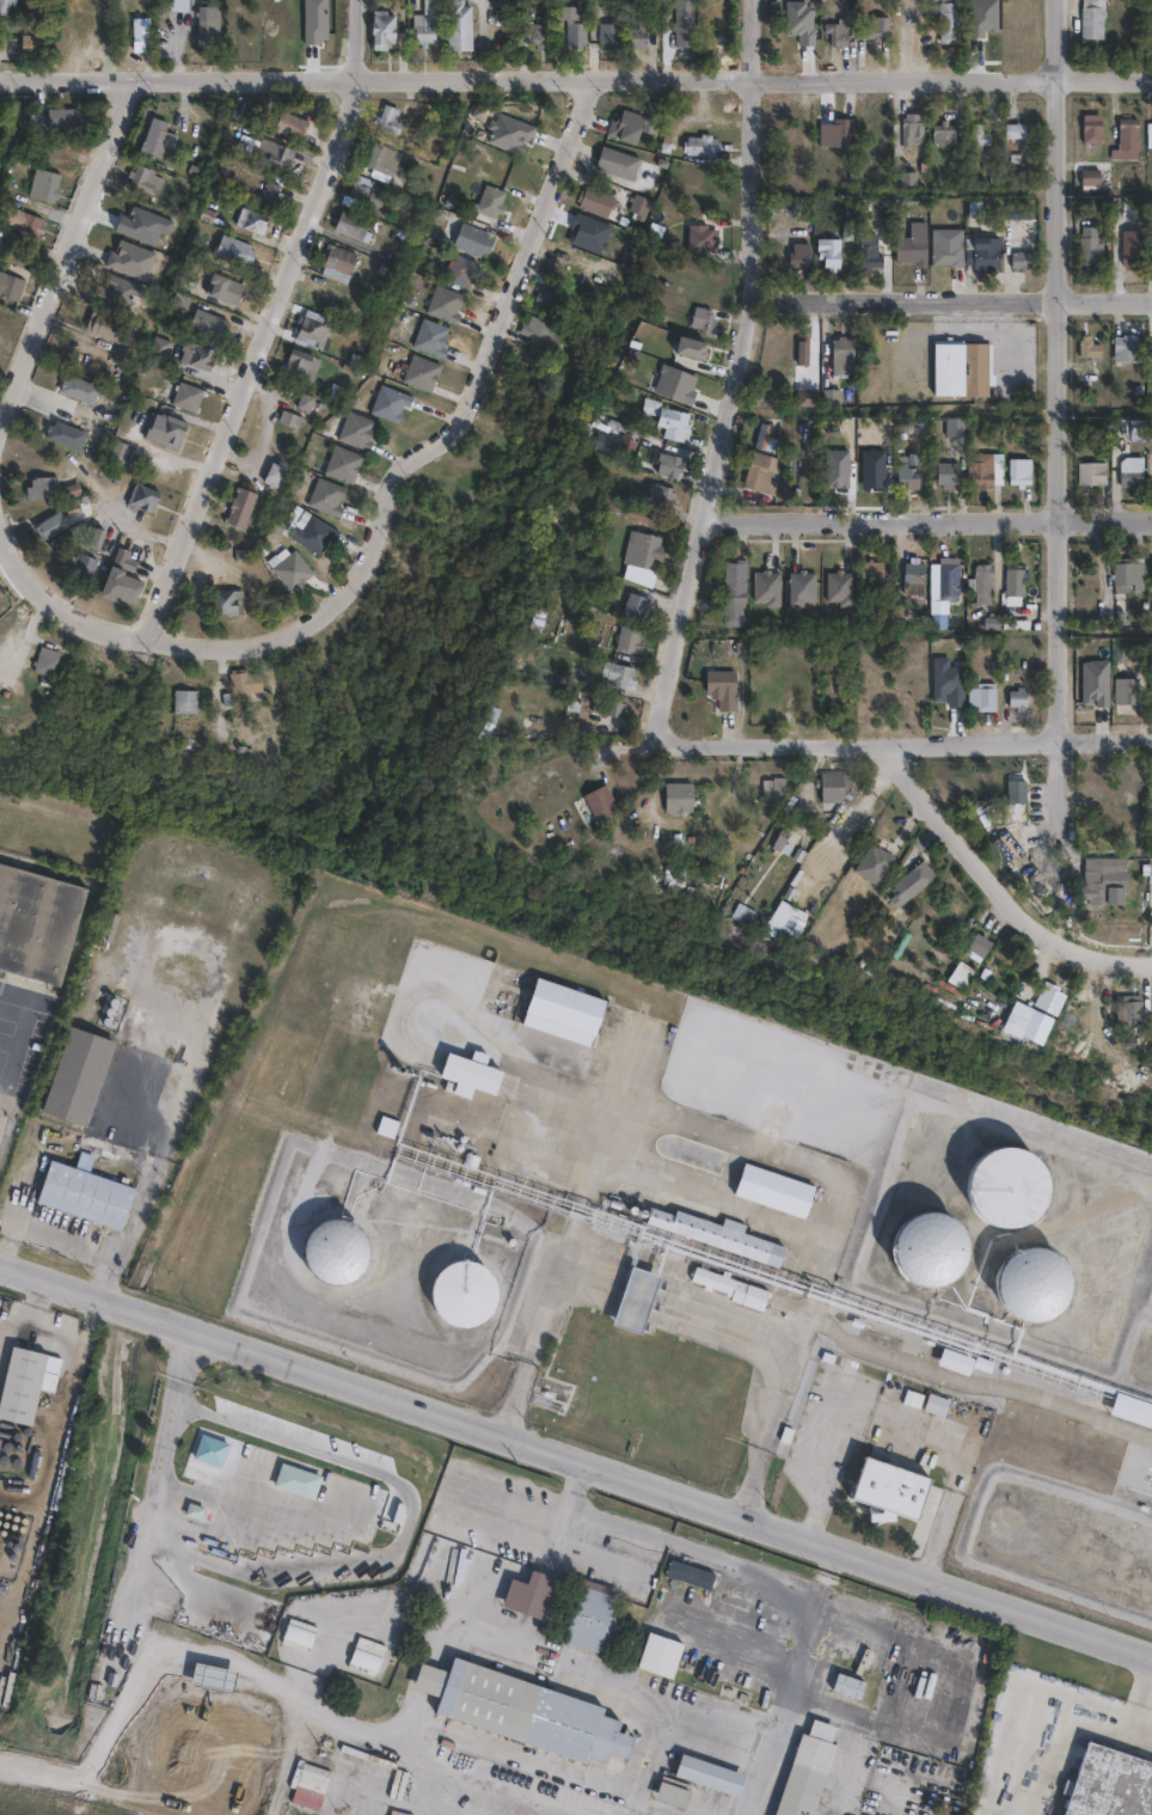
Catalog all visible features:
building: (7, 6)
building: (946, 19)
building: (1151, 20)
building: (799, 22)
building: (684, 23)
building: (1092, 23)
building: (458, 26)
building: (574, 26)
building: (380, 30)
building: (424, 30)
building: (876, 30)
building: (206, 31)
building: (611, 32)
building: (139, 33)
building: (535, 33)
building: (641, 33)
building: (838, 35)
building: (30, 45)
road: (576, 75)
building: (60, 117)
building: (386, 120)
building: (288, 126)
building: (624, 127)
building: (1092, 129)
building: (912, 130)
building: (1015, 132)
building: (945, 133)
building: (1150, 133)
building: (509, 134)
building: (835, 134)
building: (1128, 135)
building: (155, 139)
building: (979, 139)
building: (698, 146)
building: (276, 157)
building: (381, 160)
building: (617, 164)
building: (143, 179)
building: (1090, 179)
building: (43, 187)
building: (271, 194)
building: (364, 194)
building: (490, 202)
building: (595, 202)
building: (639, 208)
building: (1018, 212)
building: (17, 221)
building: (249, 221)
building: (350, 227)
building: (471, 240)
building: (697, 240)
building: (912, 246)
building: (1091, 246)
building: (1151, 249)
building: (232, 250)
building: (870, 253)
building: (829, 255)
building: (984, 255)
building: (799, 256)
building: (946, 256)
building: (1132, 257)
building: (1150, 257)
road: (69, 259)
building: (129, 262)
building: (1022, 262)
building: (336, 263)
building: (461, 273)
building: (10, 288)
building: (222, 289)
road: (951, 297)
building: (550, 298)
building: (445, 305)
road: (266, 320)
building: (701, 322)
building: (102, 324)
building: (207, 324)
building: (313, 329)
building: (540, 334)
building: (430, 338)
building: (687, 349)
building: (1089, 350)
building: (1128, 350)
building: (158, 352)
building: (802, 352)
building: (842, 356)
building: (200, 357)
building: (305, 363)
building: (353, 363)
building: (419, 373)
road: (736, 373)
building: (958, 373)
building: (79, 391)
building: (805, 398)
building: (833, 398)
building: (184, 401)
building: (306, 402)
road: (1058, 403)
building: (388, 404)
building: (654, 408)
building: (290, 418)
building: (678, 426)
building: (952, 429)
building: (163, 433)
building: (356, 433)
building: (62, 435)
building: (765, 436)
road: (440, 439)
building: (632, 445)
building: (115, 456)
building: (342, 465)
building: (670, 465)
building: (875, 466)
building: (980, 473)
building: (1095, 473)
building: (276, 475)
building: (1018, 475)
building: (758, 476)
building: (945, 476)
building: (1134, 477)
building: (906, 478)
building: (37, 491)
building: (664, 496)
building: (325, 497)
building: (139, 500)
building: (623, 508)
building: (240, 513)
road: (930, 518)
building: (49, 527)
building: (315, 536)
building: (641, 554)
building: (75, 569)
building: (290, 572)
building: (1129, 573)
building: (1151, 573)
building: (875, 575)
building: (917, 575)
building: (951, 579)
building: (118, 581)
building: (985, 586)
building: (1016, 586)
building: (767, 589)
building: (801, 589)
building: (840, 589)
road: (57, 594)
building: (733, 599)
building: (228, 603)
building: (637, 606)
building: (626, 643)
building: (44, 666)
building: (614, 679)
building: (1097, 683)
building: (241, 690)
building: (723, 692)
building: (1130, 692)
building: (982, 702)
building: (1017, 703)
building: (183, 704)
building: (764, 705)
building: (607, 710)
building: (486, 727)
road: (912, 740)
building: (834, 790)
building: (777, 793)
building: (1018, 796)
building: (682, 802)
building: (596, 808)
building: (784, 841)
building: (875, 869)
building: (917, 878)
road: (999, 880)
building: (1108, 882)
building: (667, 884)
building: (752, 917)
building: (795, 918)
building: (38, 924)
building: (980, 947)
building: (963, 974)
building: (1047, 997)
building: (1132, 1009)
building: (562, 1010)
road: (25, 1017)
road: (8, 1044)
road: (8, 1075)
building: (465, 1075)
building: (81, 1076)
building: (388, 1127)
building: (1007, 1186)
building: (777, 1191)
building: (82, 1194)
road: (139, 1223)
building: (722, 1235)
road: (53, 1240)
building: (930, 1246)
building: (336, 1248)
road: (111, 1282)
building: (1034, 1283)
building: (735, 1288)
building: (464, 1291)
building: (638, 1300)
road: (537, 1334)
building: (954, 1363)
road: (783, 1376)
building: (891, 1388)
building: (20, 1389)
building: (935, 1405)
building: (1132, 1408)
road: (888, 1428)
road: (575, 1456)
building: (294, 1489)
building: (893, 1489)
building: (192, 1510)
road: (670, 1545)
building: (1085, 1550)
building: (709, 1553)
building: (690, 1581)
building: (537, 1596)
road: (131, 1608)
building: (586, 1627)
building: (658, 1663)
building: (209, 1680)
building: (851, 1693)
building: (523, 1719)
road: (1059, 1723)
road: (1140, 1723)
road: (743, 1725)
road: (391, 1727)
road: (372, 1734)
building: (202, 1759)
building: (808, 1774)
building: (707, 1783)
building: (1110, 1784)
building: (310, 1786)
building: (672, 1791)
building: (669, 1802)

